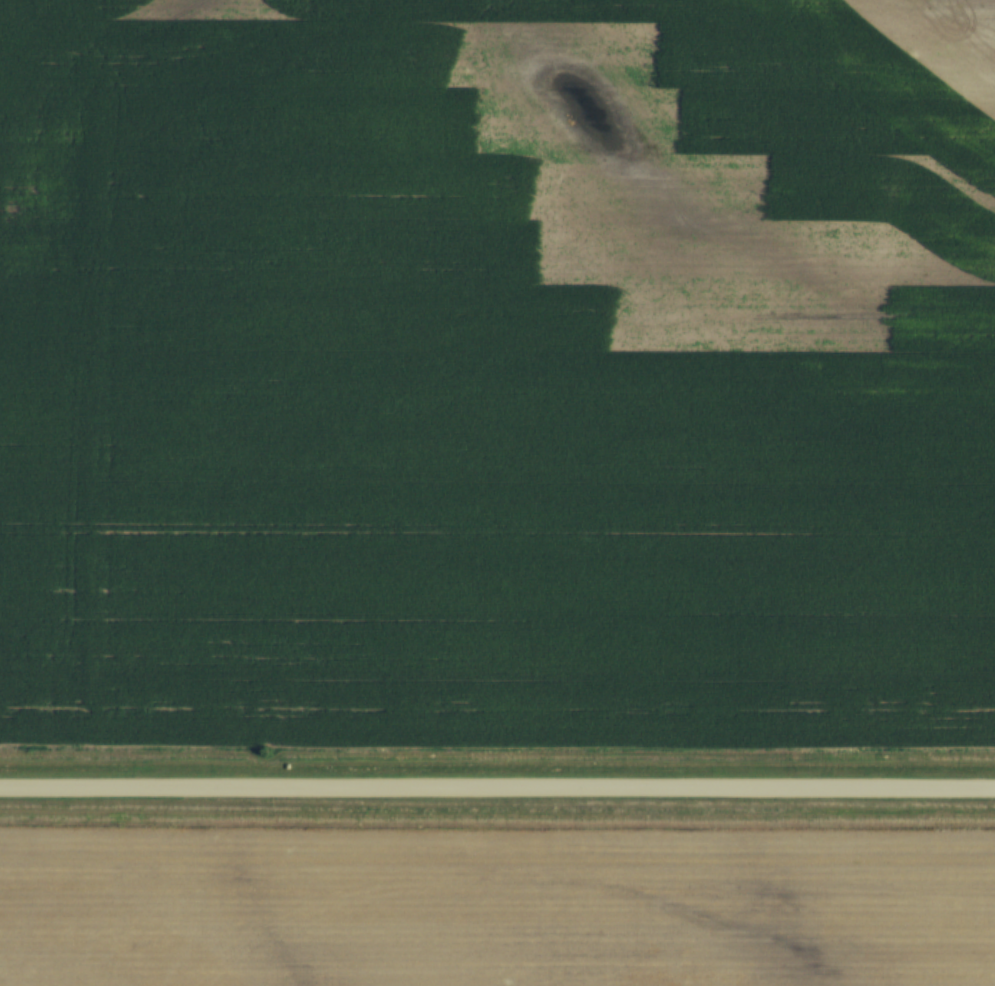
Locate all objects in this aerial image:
road: (497, 788)

